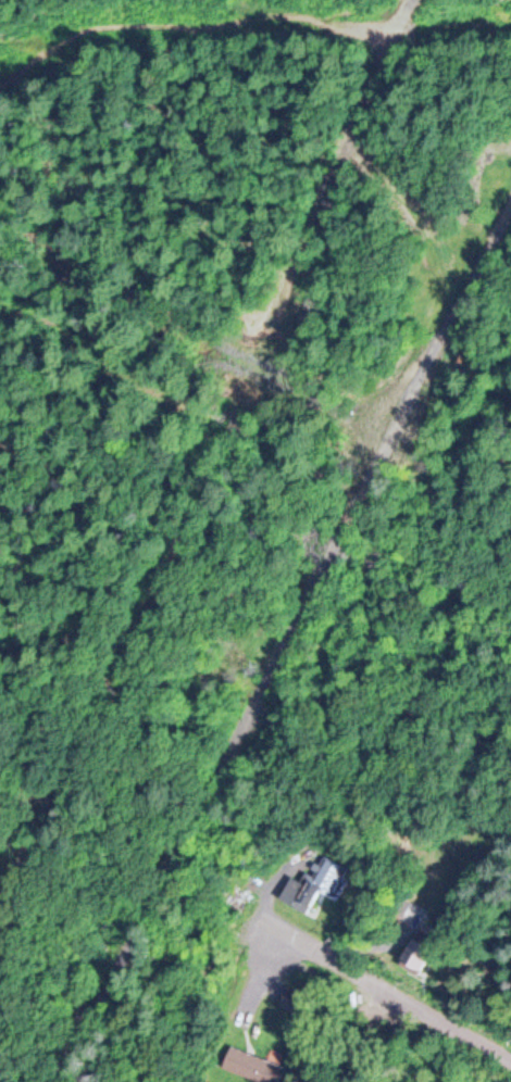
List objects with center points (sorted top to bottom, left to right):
road: (281, 637)
building: (314, 884)
building: (237, 903)
building: (414, 951)
road: (426, 1002)
building: (257, 1064)

